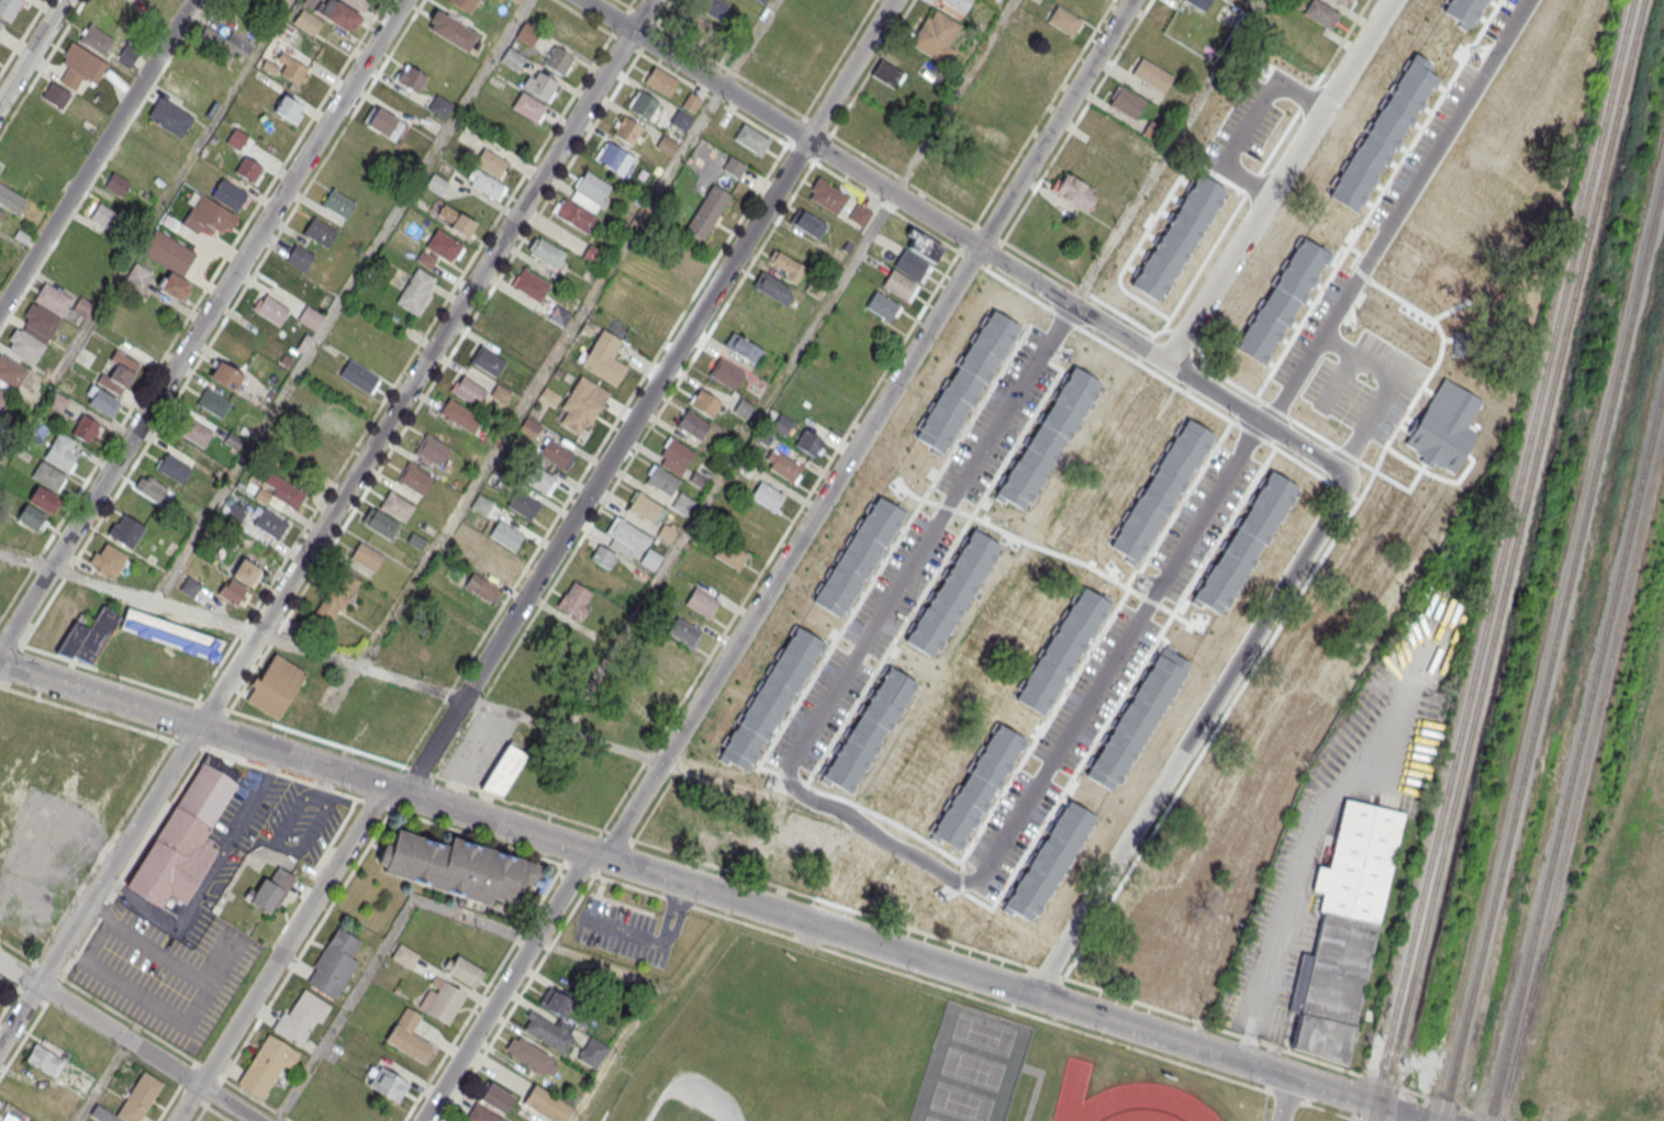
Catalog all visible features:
building: (516, 0)
building: (762, 1)
building: (1342, 1)
building: (354, 3)
building: (1199, 3)
building: (464, 4)
building: (958, 4)
building: (712, 7)
building: (9, 8)
building: (1459, 10)
building: (1320, 13)
building: (340, 15)
building: (1064, 21)
building: (308, 22)
building: (1, 24)
building: (696, 27)
building: (451, 30)
building: (573, 33)
building: (527, 34)
road: (1345, 35)
building: (937, 36)
road: (23, 37)
building: (97, 40)
road: (750, 43)
building: (227, 44)
road: (32, 52)
road: (1356, 54)
building: (127, 56)
building: (512, 58)
building: (559, 59)
building: (81, 65)
building: (889, 74)
building: (1152, 75)
building: (411, 77)
building: (660, 80)
building: (540, 85)
building: (57, 96)
road: (954, 98)
building: (1126, 101)
building: (691, 102)
building: (644, 104)
building: (439, 105)
building: (528, 105)
building: (287, 109)
building: (1260, 110)
building: (169, 116)
building: (681, 120)
road: (1076, 121)
road: (1249, 121)
building: (382, 122)
road: (781, 123)
road: (1054, 123)
building: (627, 130)
road: (826, 130)
building: (1153, 130)
building: (1377, 134)
building: (1399, 135)
building: (859, 137)
building: (751, 138)
building: (995, 138)
road: (1027, 138)
building: (666, 144)
building: (1143, 147)
road: (1165, 150)
road: (97, 155)
building: (614, 157)
building: (491, 161)
road: (102, 165)
building: (733, 166)
building: (249, 169)
building: (436, 183)
building: (116, 184)
building: (487, 184)
building: (592, 187)
building: (1075, 191)
building: (957, 193)
building: (228, 195)
building: (826, 195)
building: (11, 199)
road: (546, 201)
building: (338, 203)
building: (707, 211)
road: (1391, 212)
building: (1, 213)
building: (574, 214)
building: (860, 214)
building: (208, 215)
building: (107, 217)
building: (453, 217)
building: (807, 223)
building: (1342, 223)
road: (144, 229)
building: (320, 232)
road: (1246, 235)
road: (1002, 242)
building: (1173, 244)
building: (444, 245)
building: (924, 247)
building: (168, 251)
building: (545, 251)
building: (593, 255)
building: (299, 257)
building: (688, 260)
road: (1037, 262)
building: (785, 265)
building: (911, 265)
building: (138, 273)
road: (249, 277)
road: (209, 281)
building: (898, 283)
building: (531, 284)
building: (172, 285)
building: (771, 287)
building: (415, 290)
building: (53, 299)
road: (343, 300)
building: (1277, 301)
building: (882, 305)
building: (82, 306)
building: (270, 309)
building: (559, 315)
building: (310, 317)
building: (647, 317)
building: (739, 317)
road: (1060, 318)
building: (41, 320)
road: (201, 324)
road: (1081, 327)
building: (24, 345)
building: (744, 348)
building: (604, 358)
building: (1400, 358)
building: (487, 360)
building: (1255, 360)
building: (1076, 370)
building: (11, 371)
building: (727, 372)
building: (119, 373)
building: (225, 374)
building: (358, 375)
road: (540, 375)
road: (1337, 378)
building: (960, 382)
road: (1387, 386)
building: (469, 390)
building: (501, 393)
building: (548, 395)
building: (1333, 396)
building: (3, 399)
building: (100, 399)
building: (56, 401)
building: (213, 402)
building: (706, 402)
building: (582, 403)
building: (742, 407)
building: (458, 415)
building: (342, 416)
road: (1254, 416)
building: (1043, 423)
building: (693, 424)
building: (1439, 426)
building: (87, 428)
building: (529, 428)
building: (196, 431)
building: (950, 435)
building: (1043, 437)
road: (1251, 437)
building: (808, 442)
building: (432, 450)
building: (62, 451)
building: (555, 451)
road: (634, 453)
road: (594, 455)
building: (675, 455)
road: (732, 463)
building: (784, 467)
building: (172, 468)
building: (47, 474)
building: (536, 477)
building: (414, 478)
building: (697, 479)
building: (662, 480)
building: (918, 485)
building: (152, 487)
building: (1157, 489)
building: (282, 492)
building: (767, 494)
building: (43, 498)
building: (481, 504)
building: (522, 504)
building: (683, 504)
building: (397, 506)
building: (647, 507)
building: (1016, 509)
building: (1274, 512)
building: (235, 514)
building: (32, 517)
building: (378, 522)
road: (325, 523)
building: (270, 528)
building: (125, 530)
building: (666, 533)
building: (505, 535)
building: (625, 536)
road: (780, 539)
building: (1241, 540)
building: (852, 546)
building: (1364, 549)
road: (916, 550)
building: (730, 553)
building: (367, 556)
building: (603, 557)
building: (108, 559)
building: (487, 559)
building: (650, 559)
railway: (1504, 560)
railway: (1515, 560)
road: (541, 570)
building: (238, 582)
building: (190, 586)
building: (482, 587)
building: (950, 595)
building: (336, 597)
building: (576, 601)
building: (700, 602)
building: (682, 630)
building: (170, 634)
building: (828, 634)
building: (88, 635)
building: (1315, 643)
building: (1060, 649)
road: (332, 655)
building: (674, 657)
road: (1110, 659)
railway: (1554, 662)
building: (796, 684)
building: (275, 685)
road: (708, 690)
building: (903, 692)
railway: (1648, 695)
building: (769, 699)
building: (645, 704)
building: (1020, 715)
building: (1259, 719)
building: (1135, 721)
road: (280, 726)
building: (869, 729)
road: (1193, 737)
parking lot: (478, 746)
building: (503, 764)
railway: (1577, 767)
railway: (1588, 781)
building: (971, 787)
building: (1217, 803)
road: (655, 806)
road: (313, 818)
road: (279, 825)
road: (377, 830)
road: (879, 834)
building: (183, 840)
parking lot: (248, 843)
building: (1046, 859)
building: (459, 867)
road: (833, 868)
road: (206, 877)
building: (1162, 878)
road: (870, 882)
road: (1296, 886)
building: (269, 889)
road: (680, 892)
road: (714, 893)
building: (917, 898)
road: (686, 904)
road: (668, 913)
road: (677, 917)
building: (994, 922)
building: (1345, 927)
road: (914, 929)
parking lot: (621, 931)
road: (626, 933)
road: (378, 955)
building: (404, 955)
building: (334, 963)
building: (464, 969)
building: (1146, 974)
parking lot: (160, 975)
road: (656, 982)
road: (483, 993)
road: (13, 995)
road: (517, 997)
building: (442, 999)
road: (40, 1013)
building: (300, 1017)
road: (129, 1019)
building: (549, 1031)
park: (984, 1034)
building: (407, 1035)
road: (130, 1040)
building: (592, 1053)
building: (529, 1055)
building: (45, 1060)
building: (267, 1064)
park: (972, 1068)
park: (710, 1076)
road: (103, 1080)
building: (388, 1084)
road: (177, 1090)
building: (139, 1097)
building: (495, 1097)
building: (21, 1098)
road: (257, 1099)
road: (1286, 1099)
park: (961, 1102)
building: (546, 1103)
road: (200, 1113)
road: (217, 1113)
building: (103, 1114)
building: (480, 1114)
park: (931, 1119)

